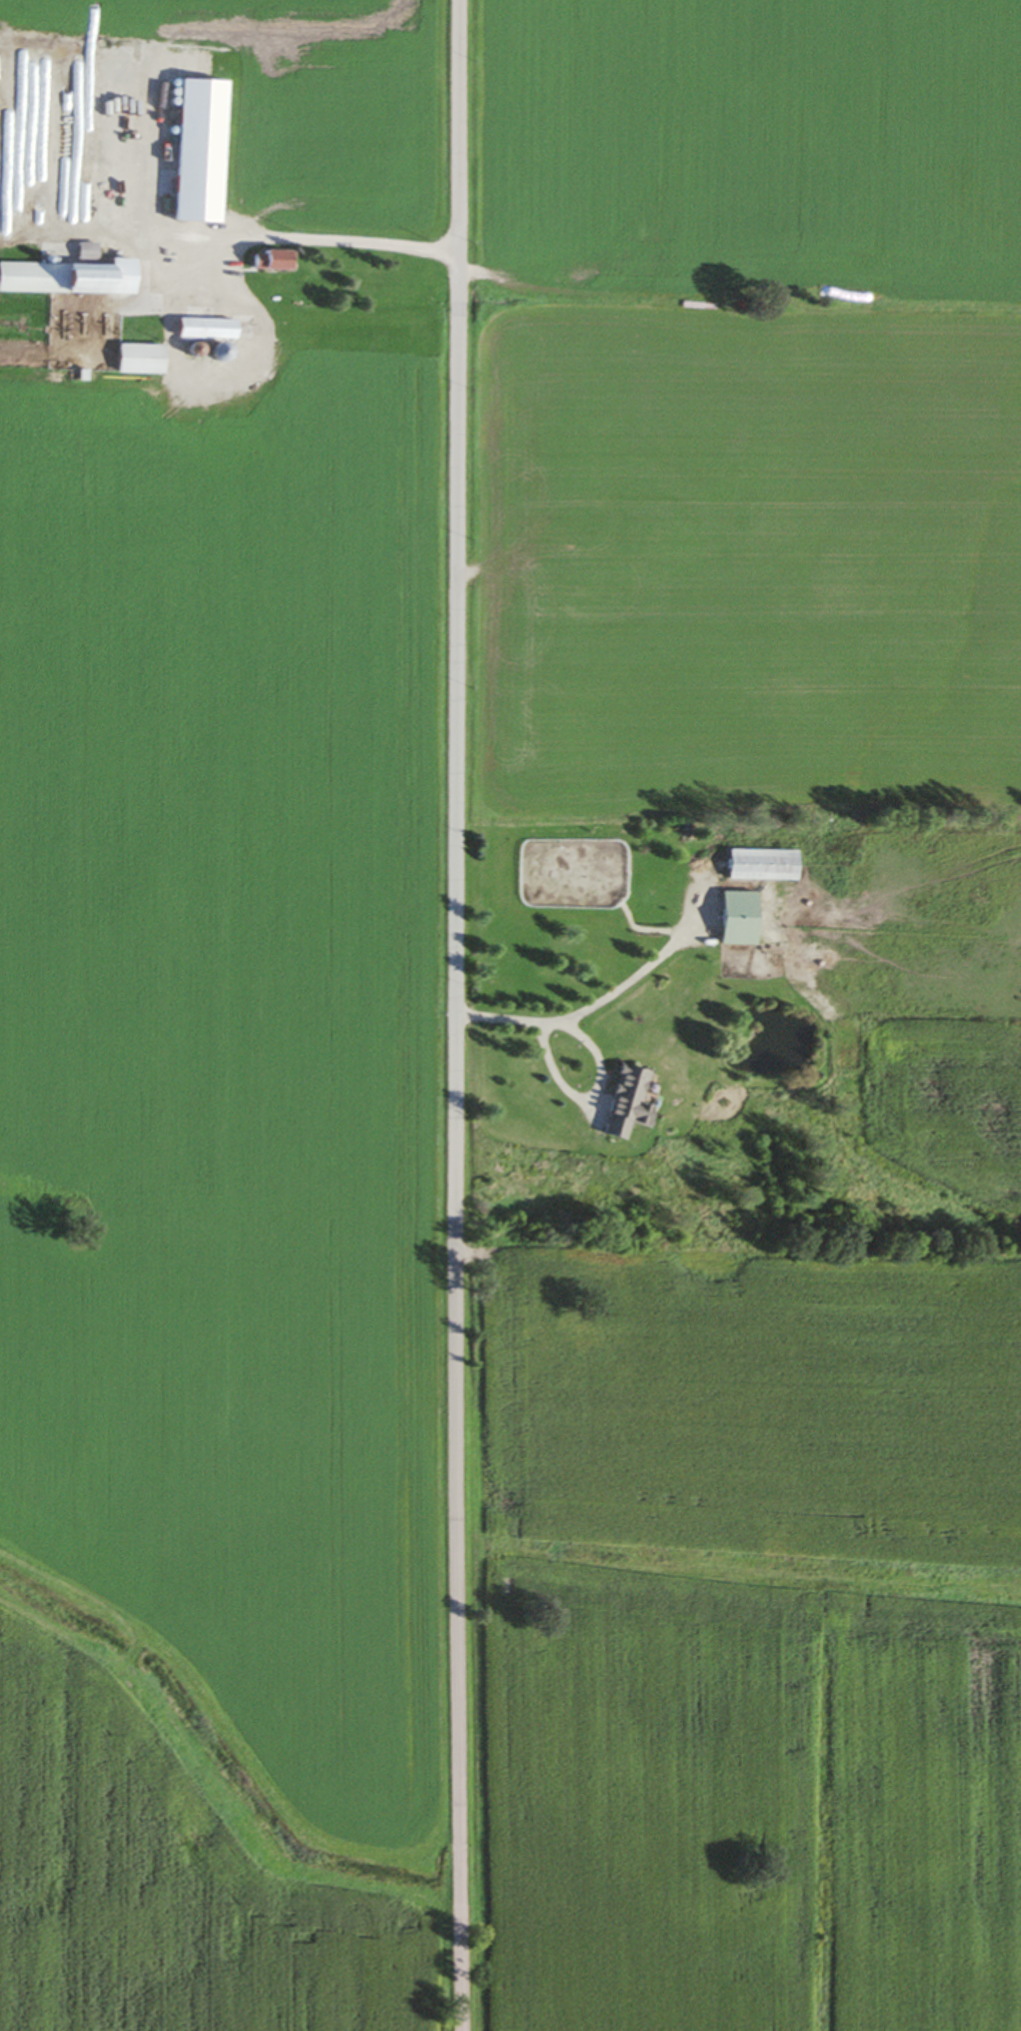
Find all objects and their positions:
building: (194, 151)
road: (251, 235)
building: (172, 255)
building: (265, 260)
building: (57, 279)
building: (203, 329)
building: (216, 353)
building: (138, 359)
building: (758, 866)
building: (734, 919)
road: (589, 1009)
road: (457, 1015)
road: (594, 1093)
building: (623, 1103)

